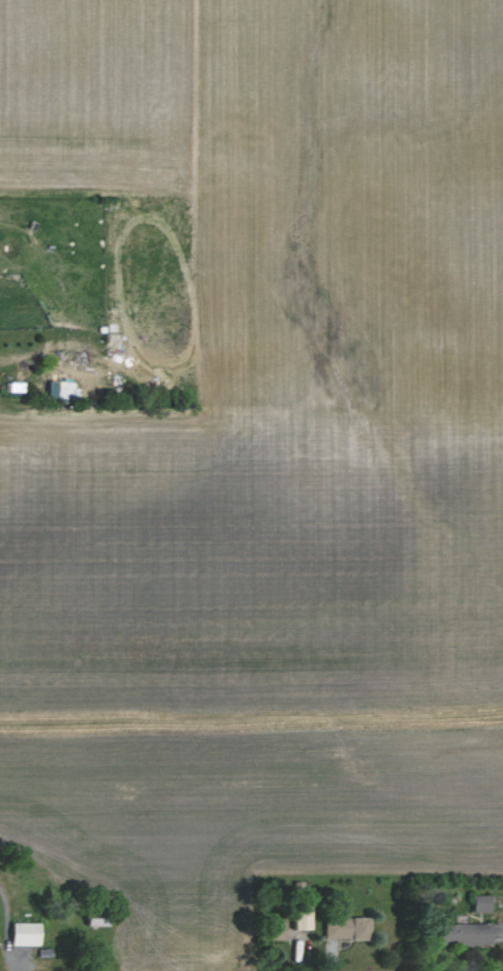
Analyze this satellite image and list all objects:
building: (68, 391)
building: (477, 903)
building: (297, 918)
building: (340, 925)
building: (271, 931)
building: (19, 933)
building: (460, 933)

